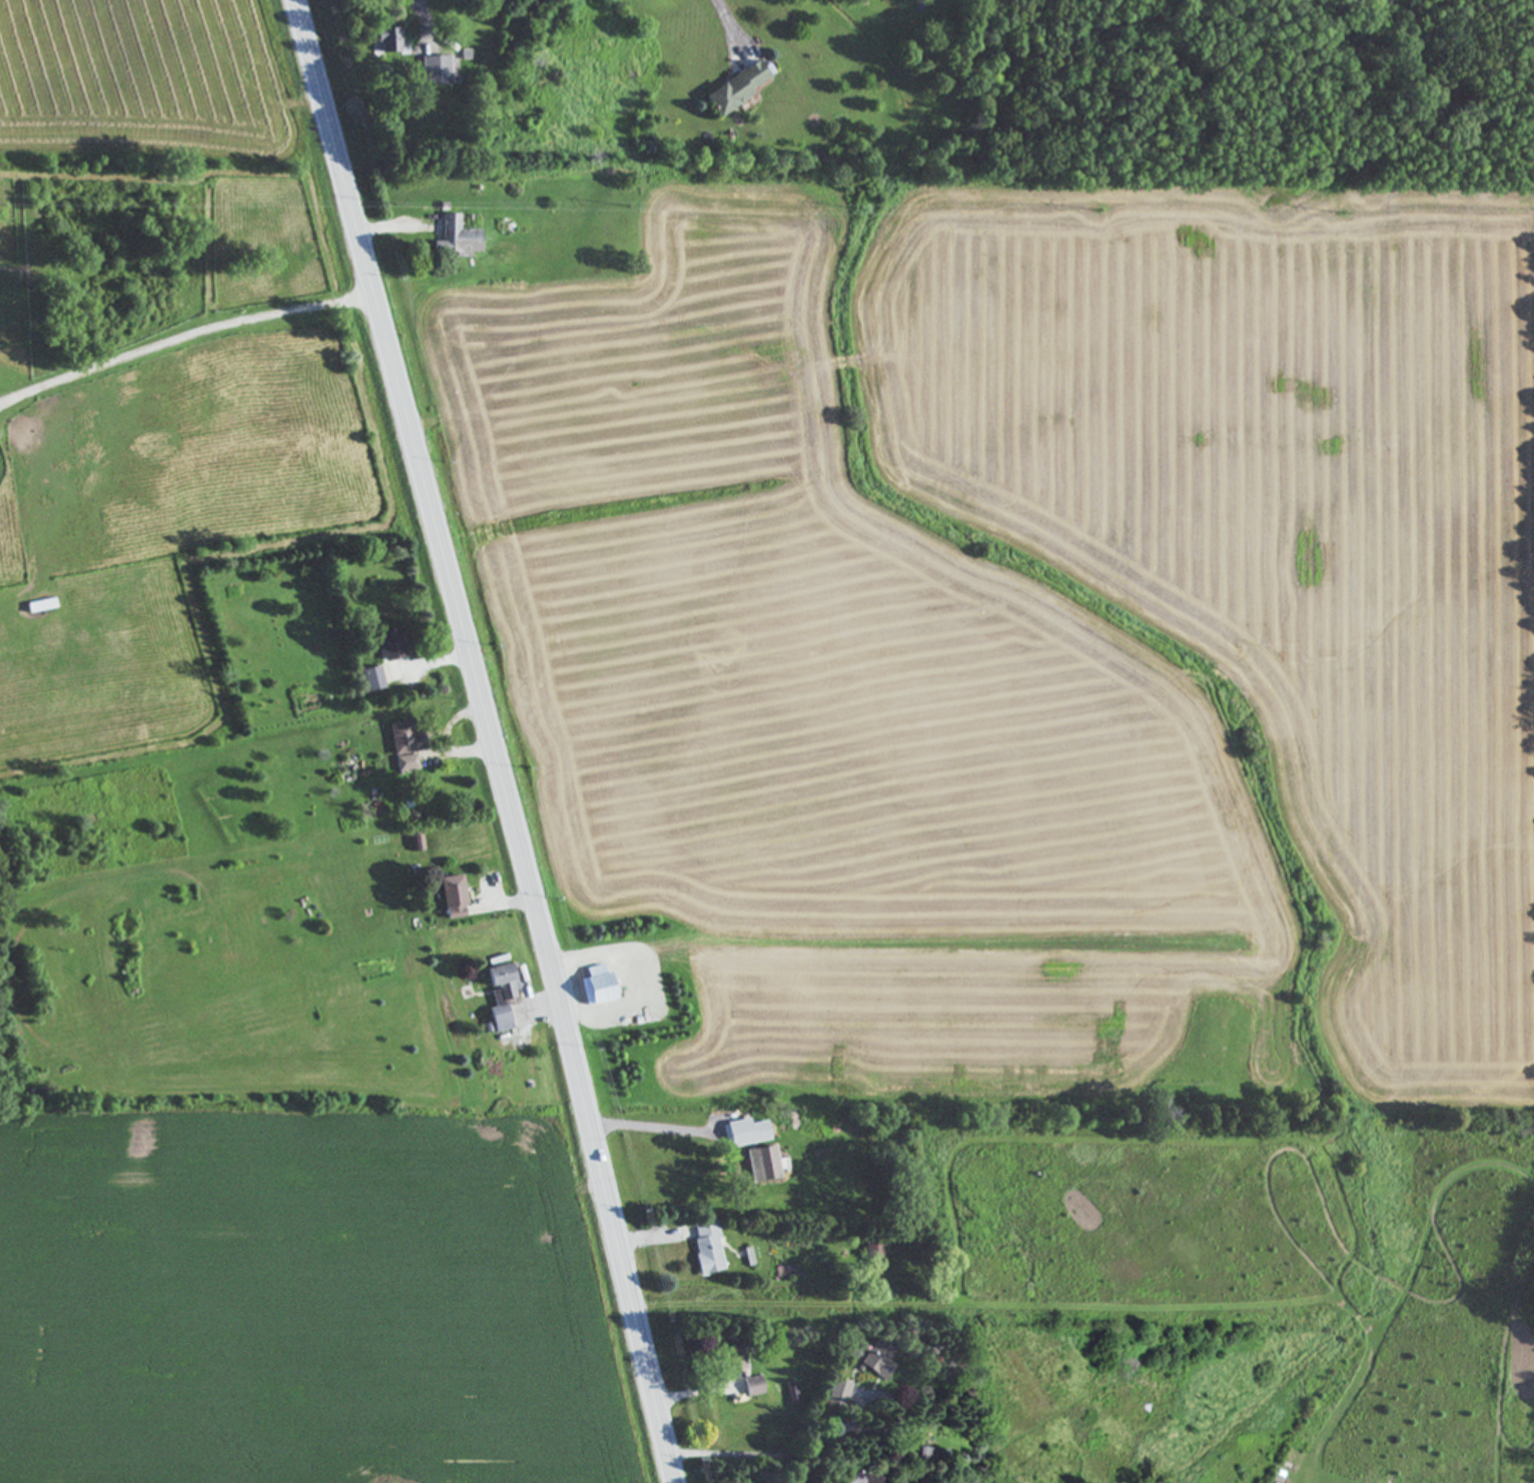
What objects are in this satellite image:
road: (420, 11)
road: (734, 27)
building: (386, 41)
building: (433, 71)
building: (733, 89)
road: (390, 225)
building: (453, 239)
road: (181, 337)
building: (389, 643)
road: (439, 662)
building: (369, 678)
building: (402, 738)
road: (444, 739)
road: (490, 739)
building: (405, 762)
building: (416, 842)
building: (450, 897)
road: (515, 903)
building: (593, 985)
building: (497, 995)
road: (656, 1127)
building: (744, 1133)
building: (759, 1164)
road: (642, 1236)
building: (704, 1246)
building: (872, 1249)
building: (874, 1360)
building: (728, 1361)
building: (750, 1386)
building: (836, 1392)
road: (682, 1394)
road: (760, 1457)
building: (860, 1479)

